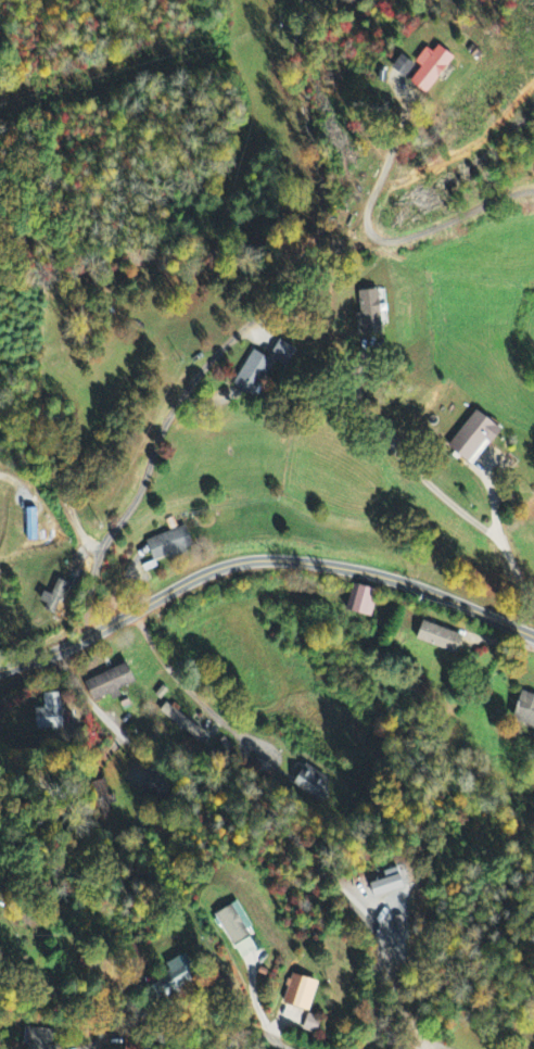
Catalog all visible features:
building: (418, 66)
building: (446, 67)
road: (392, 237)
road: (152, 254)
building: (372, 313)
building: (288, 354)
building: (256, 374)
road: (162, 435)
building: (479, 438)
building: (171, 544)
road: (260, 559)
building: (58, 599)
building: (364, 601)
building: (441, 639)
road: (183, 683)
building: (111, 684)
building: (526, 710)
building: (51, 713)
building: (178, 721)
building: (311, 784)
road: (272, 817)
building: (391, 883)
building: (234, 925)
building: (180, 974)
road: (378, 984)
building: (302, 991)
road: (145, 1015)
building: (313, 1024)
building: (38, 1038)

